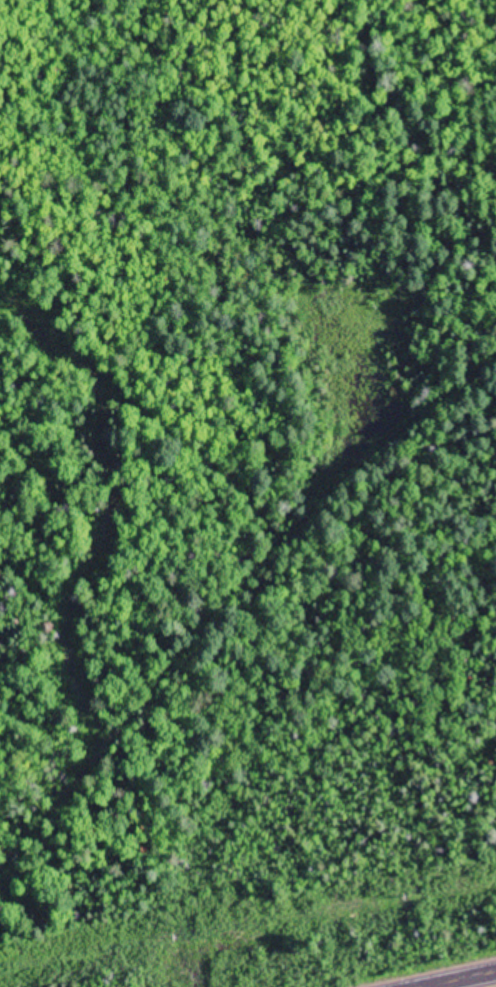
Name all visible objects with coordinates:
power tower: (414, 897)
power tower: (175, 939)
road: (463, 980)

